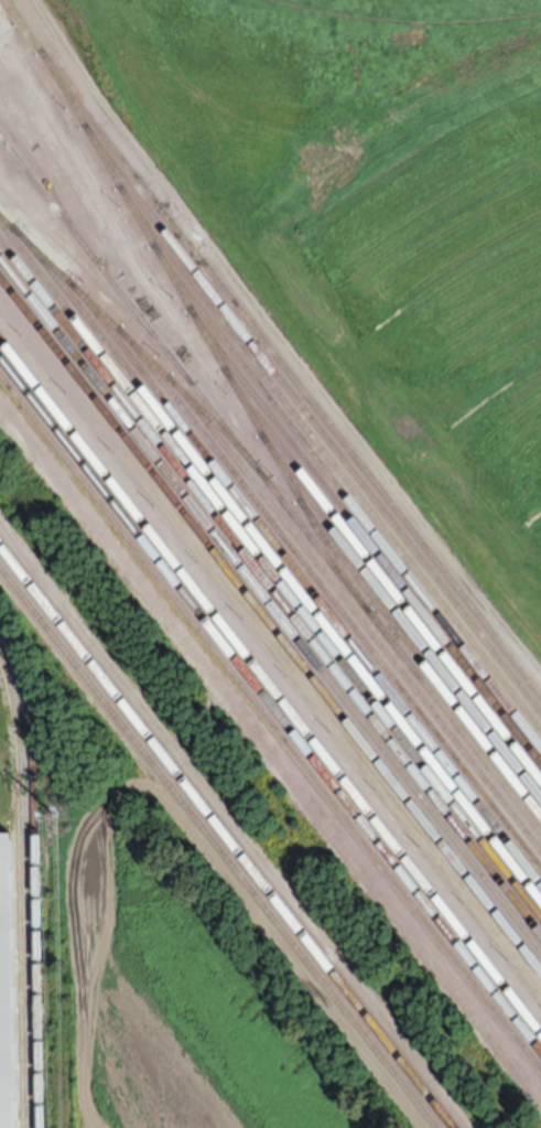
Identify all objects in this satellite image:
road: (76, 166)
railway: (46, 187)
crop: (383, 211)
railway: (97, 284)
railway: (186, 304)
railway: (131, 341)
road: (280, 343)
railway: (289, 373)
railway: (311, 419)
railway: (328, 459)
railway: (270, 485)
railway: (345, 495)
railway: (364, 537)
railway: (278, 562)
railway: (270, 569)
railway: (381, 573)
railway: (305, 580)
railway: (270, 587)
railway: (328, 595)
railway: (270, 604)
railway: (355, 613)
railway: (399, 614)
railway: (270, 624)
railway: (419, 657)
railway: (270, 685)
railway: (270, 703)
railway: (270, 723)
road: (270, 745)
railway: (226, 836)
railway: (217, 848)
road: (209, 853)
railway: (32, 880)
railway: (17, 901)
building: (4, 990)
crop: (184, 997)

